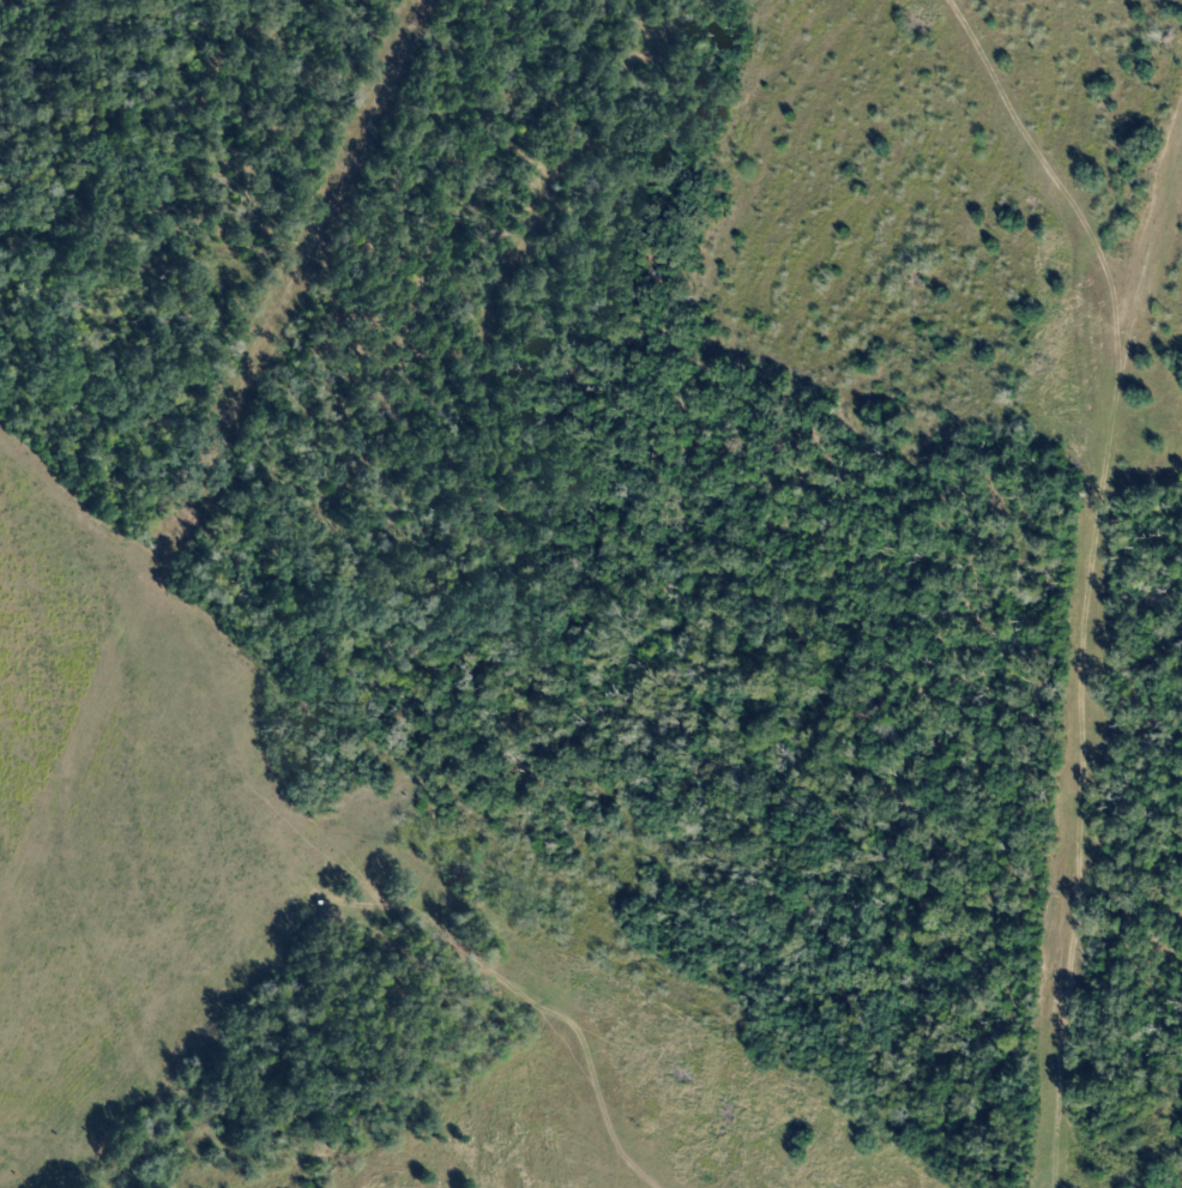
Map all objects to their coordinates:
road: (553, 1002)

